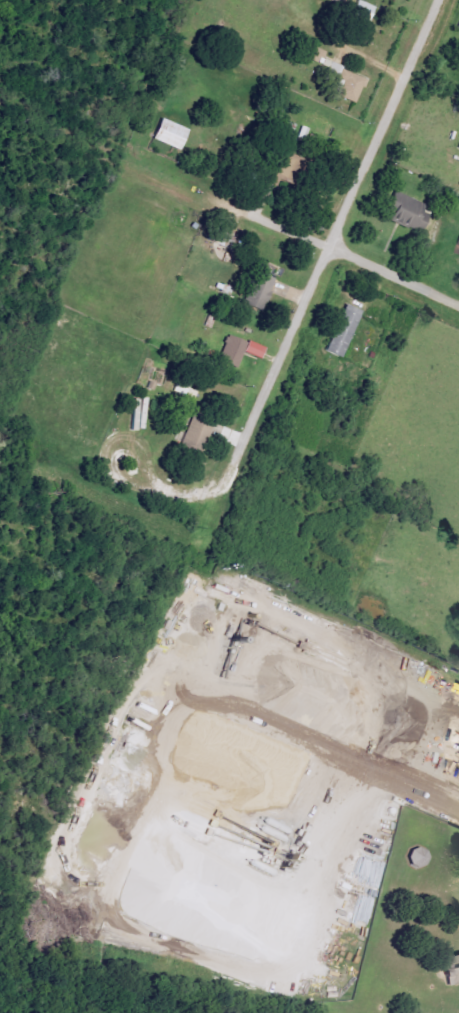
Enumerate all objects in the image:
building: (360, 10)
building: (309, 52)
road: (381, 124)
building: (166, 133)
building: (457, 144)
building: (402, 210)
road: (271, 227)
building: (457, 249)
road: (393, 277)
building: (255, 291)
building: (339, 330)
building: (235, 350)
road: (282, 352)
building: (136, 413)
building: (193, 436)
building: (450, 970)

